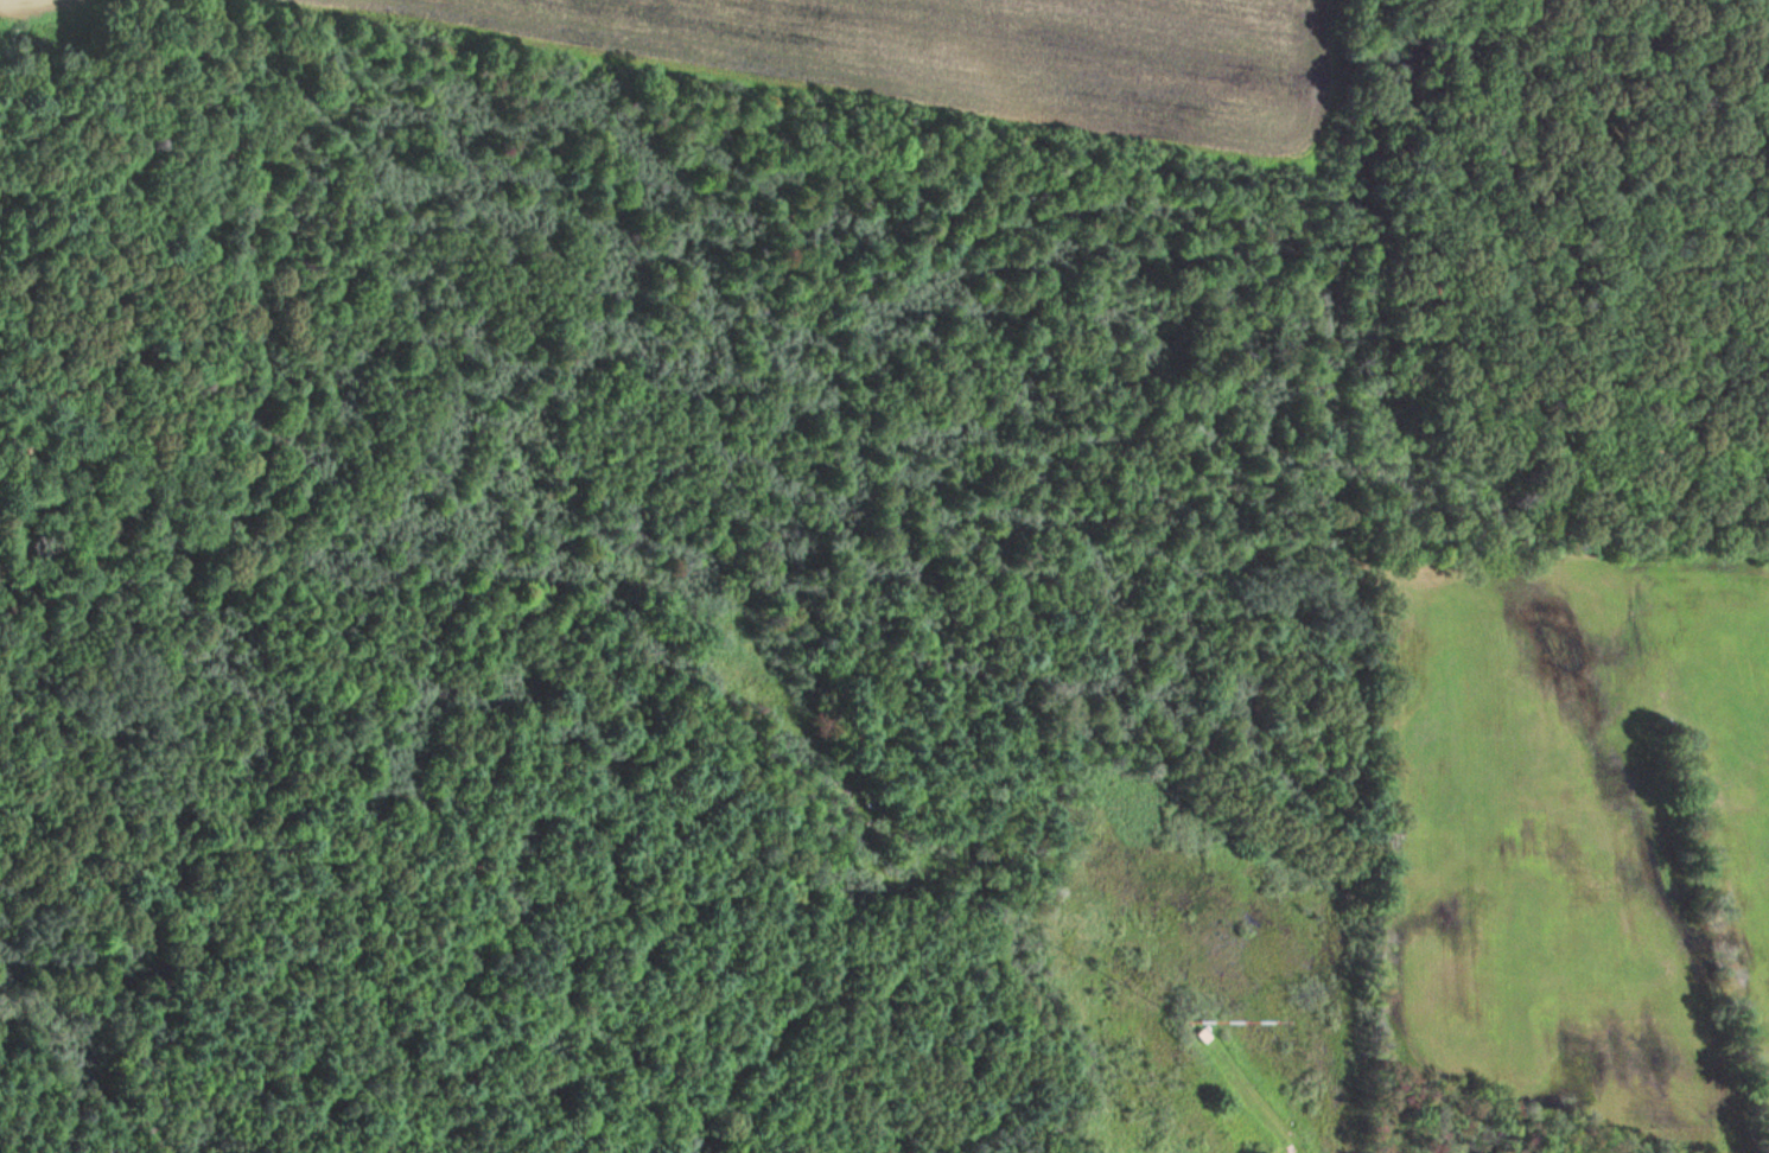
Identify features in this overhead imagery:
park: (1286, 330)
crop: (1577, 852)

